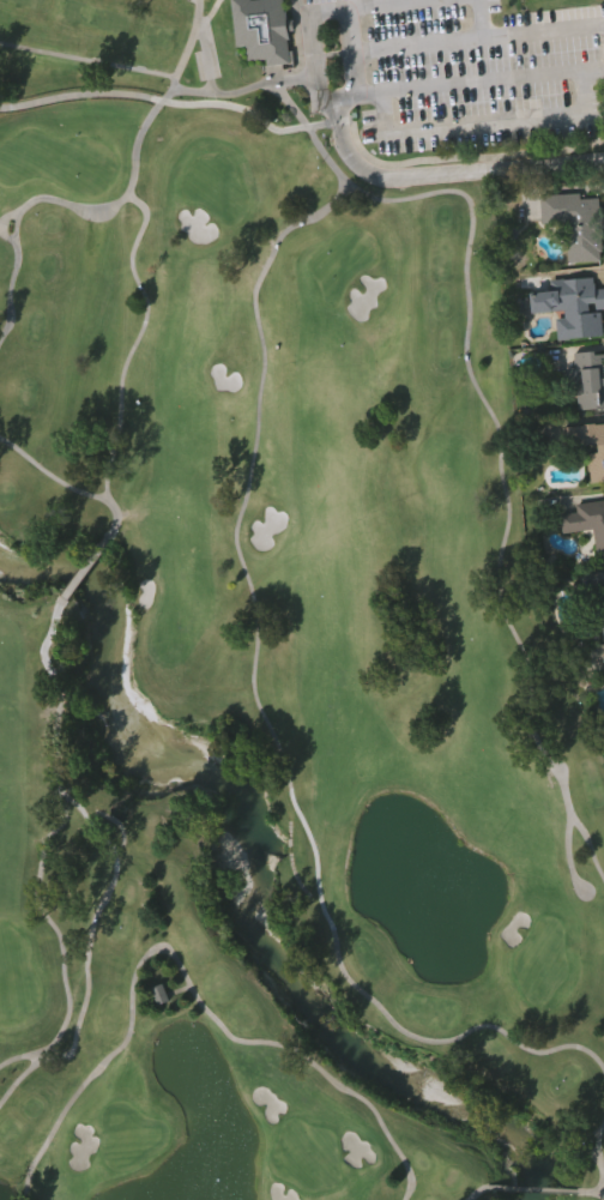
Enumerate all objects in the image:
road: (392, 1)
road: (322, 10)
road: (366, 12)
road: (479, 19)
building: (260, 29)
road: (477, 38)
road: (481, 86)
road: (168, 104)
road: (485, 123)
road: (451, 170)
building: (575, 222)
building: (569, 306)
building: (588, 378)
building: (590, 445)
building: (592, 521)
building: (602, 593)
park: (280, 617)
building: (161, 997)

